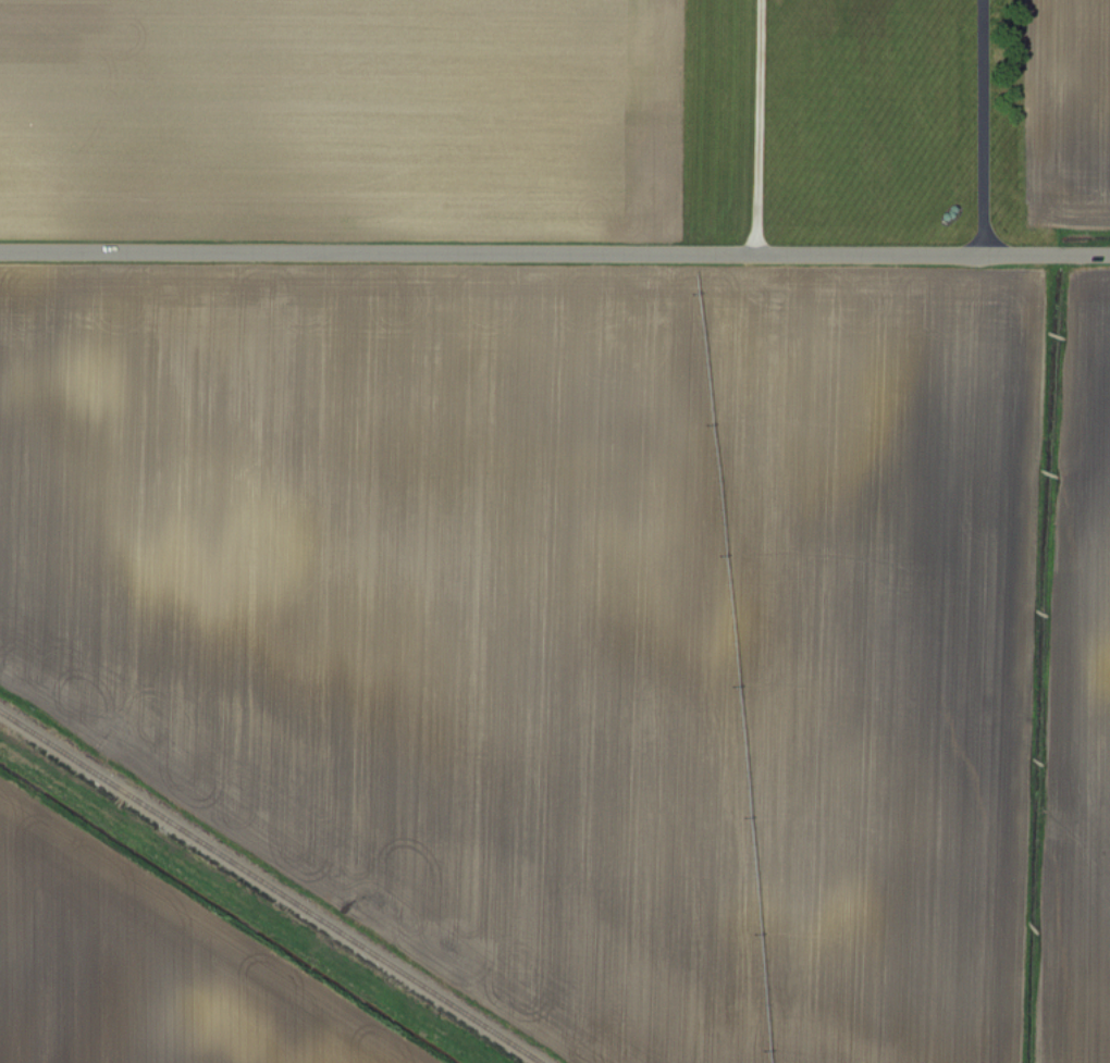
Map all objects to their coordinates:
road: (980, 125)
road: (765, 126)
road: (555, 254)
railway: (270, 887)

